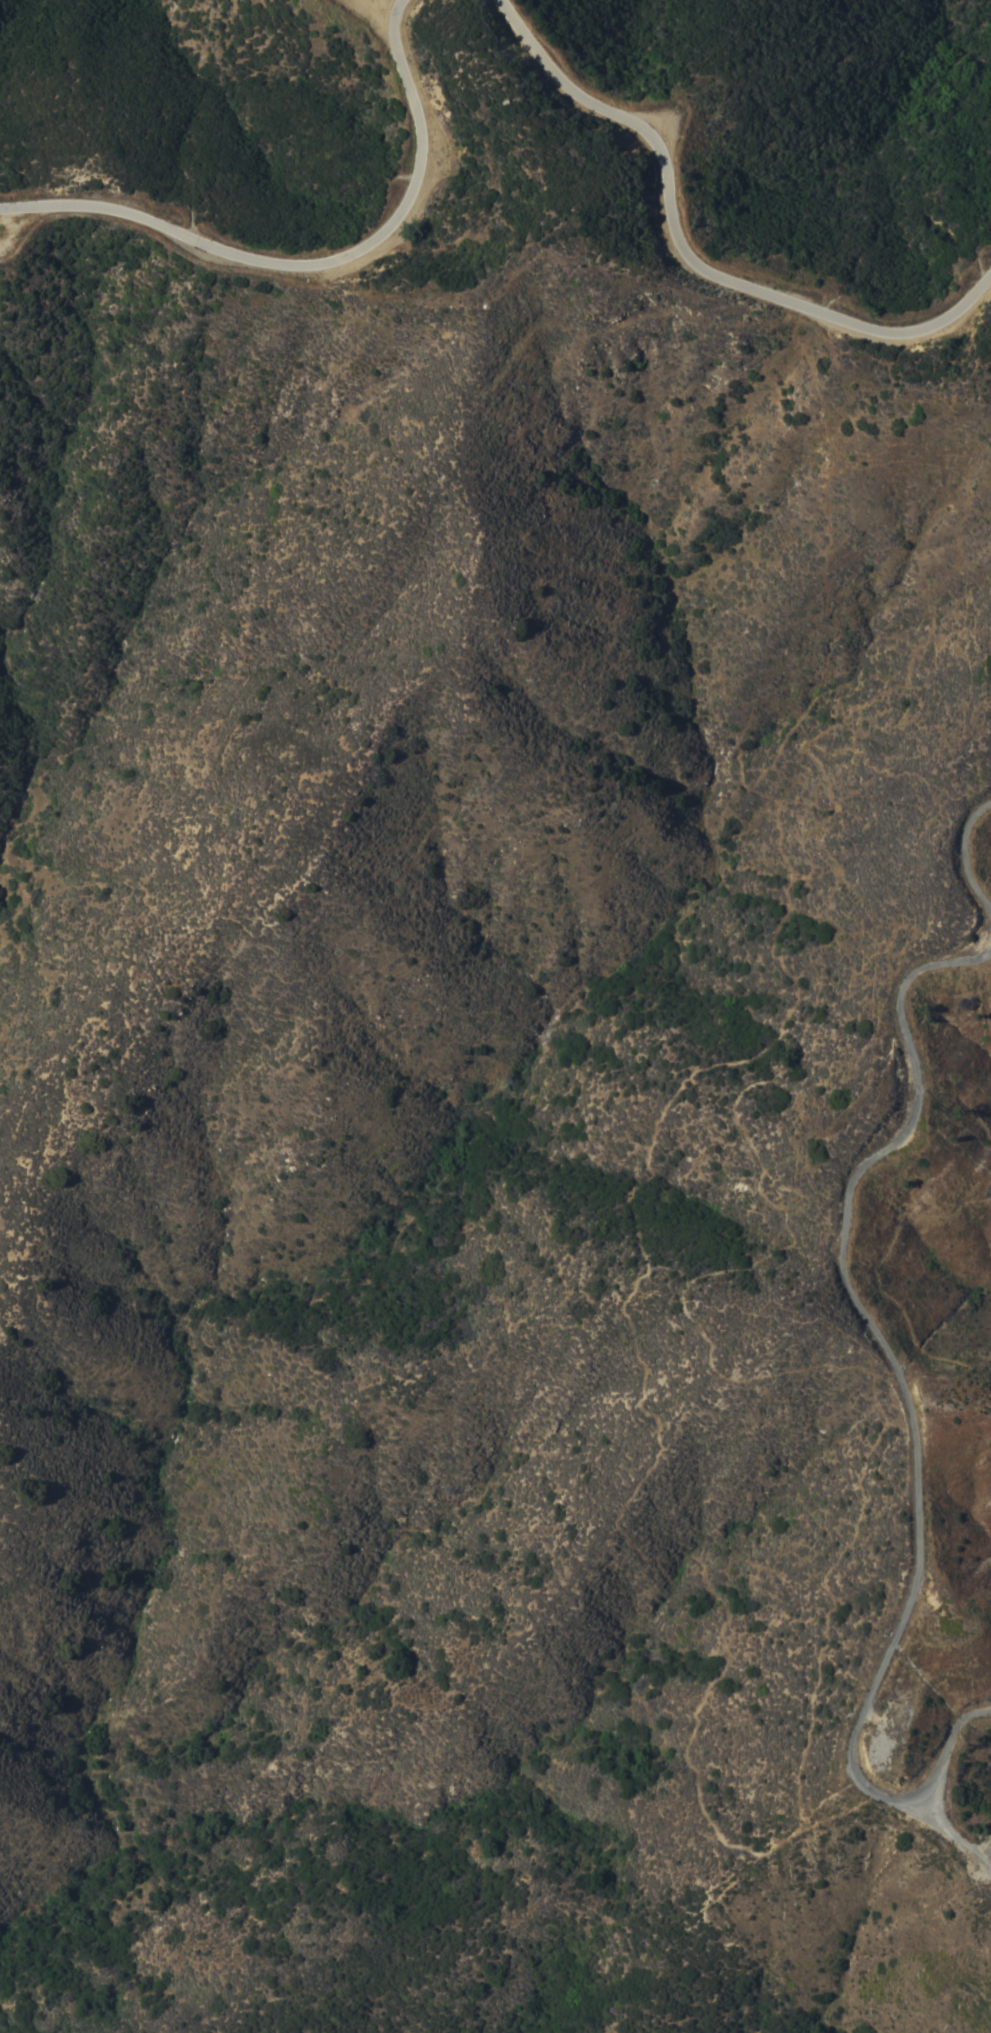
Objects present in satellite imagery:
road: (691, 256)
road: (314, 258)
road: (975, 853)
road: (977, 1119)
road: (887, 1297)
road: (895, 1354)
road: (955, 1762)
road: (956, 1833)

